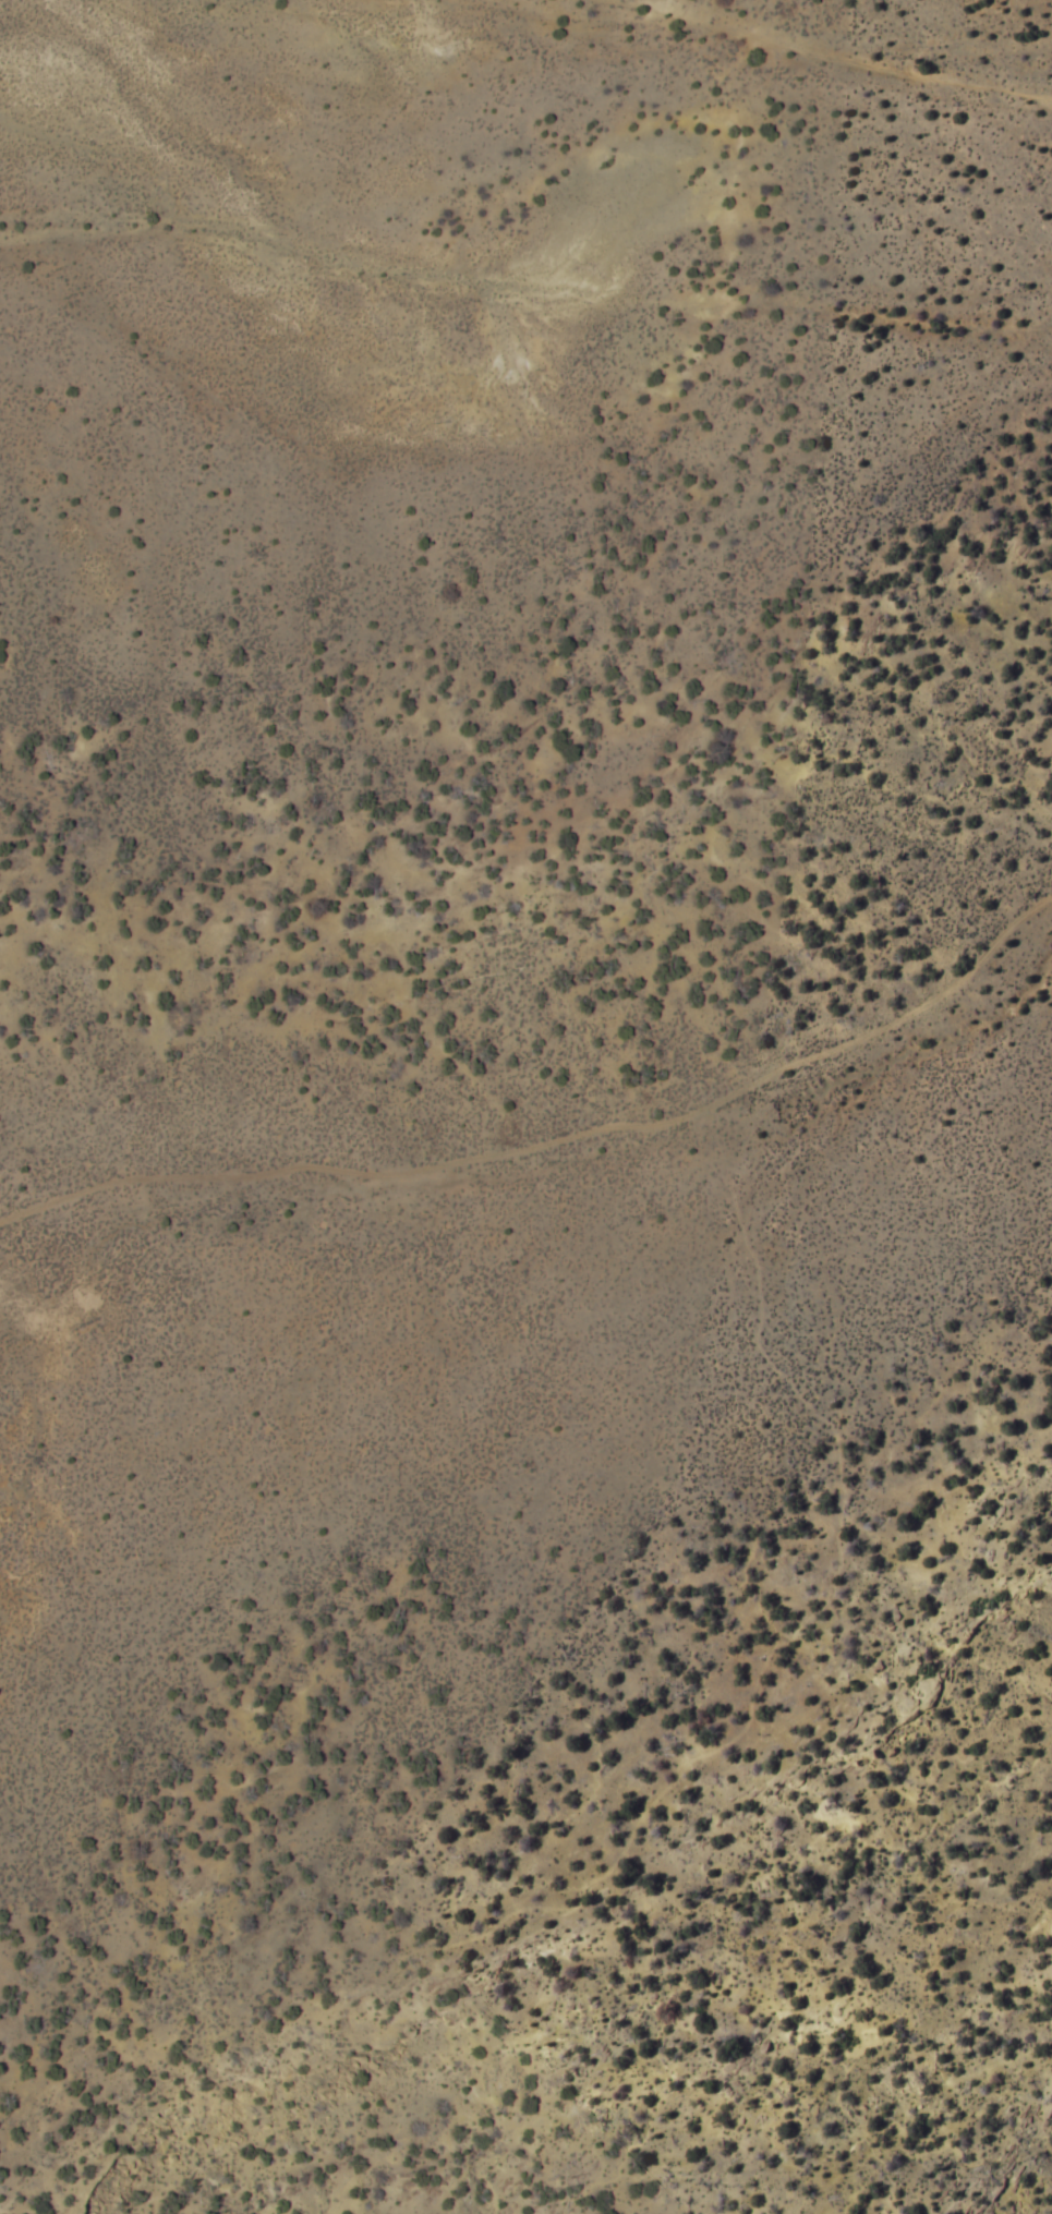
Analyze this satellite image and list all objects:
road: (945, 25)

